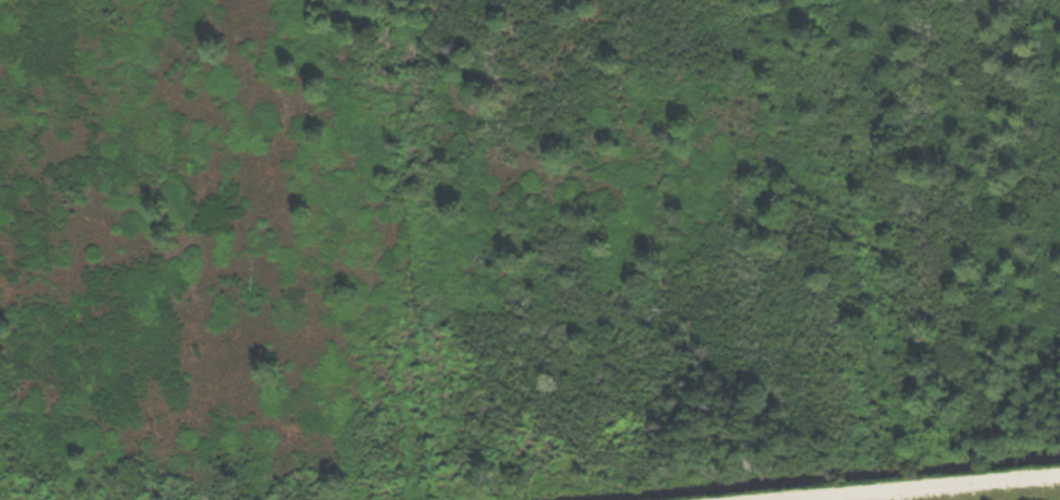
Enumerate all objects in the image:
road: (928, 488)

